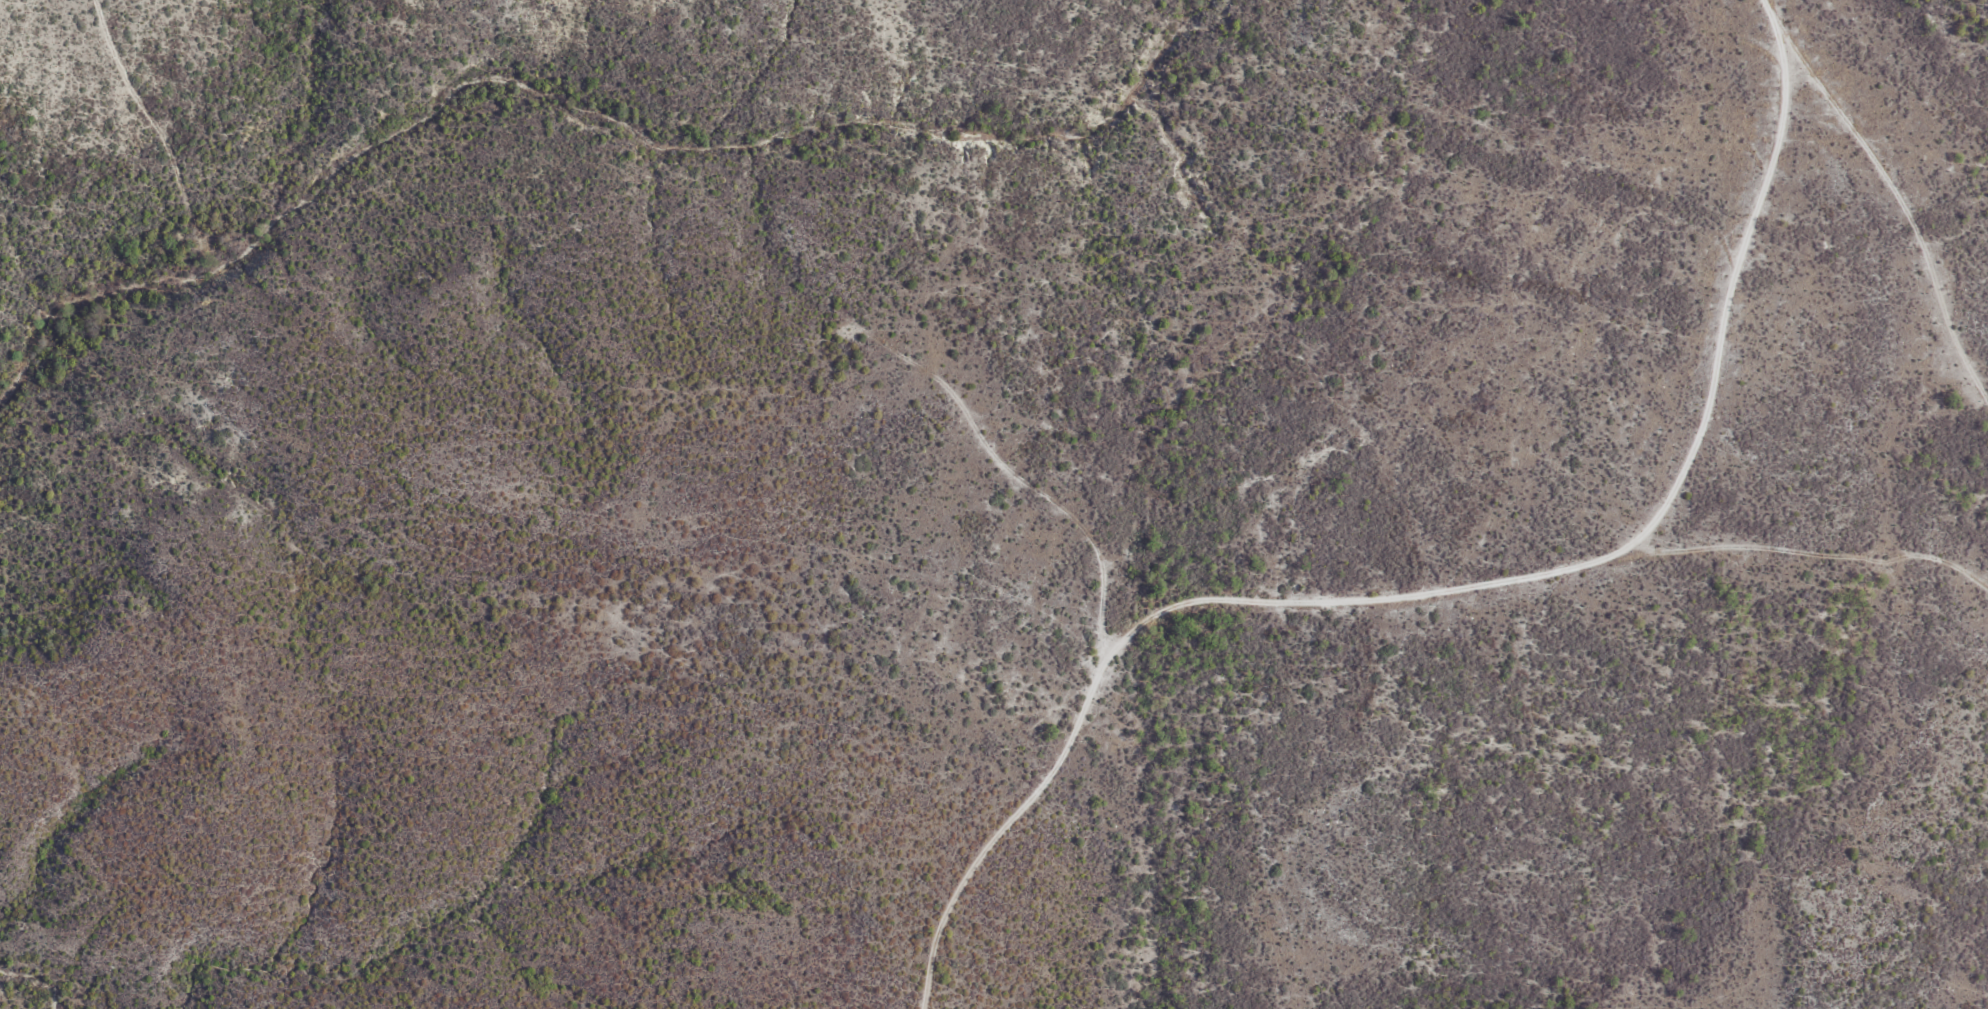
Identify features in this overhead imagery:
road: (1903, 195)
road: (1807, 552)
road: (1457, 594)

